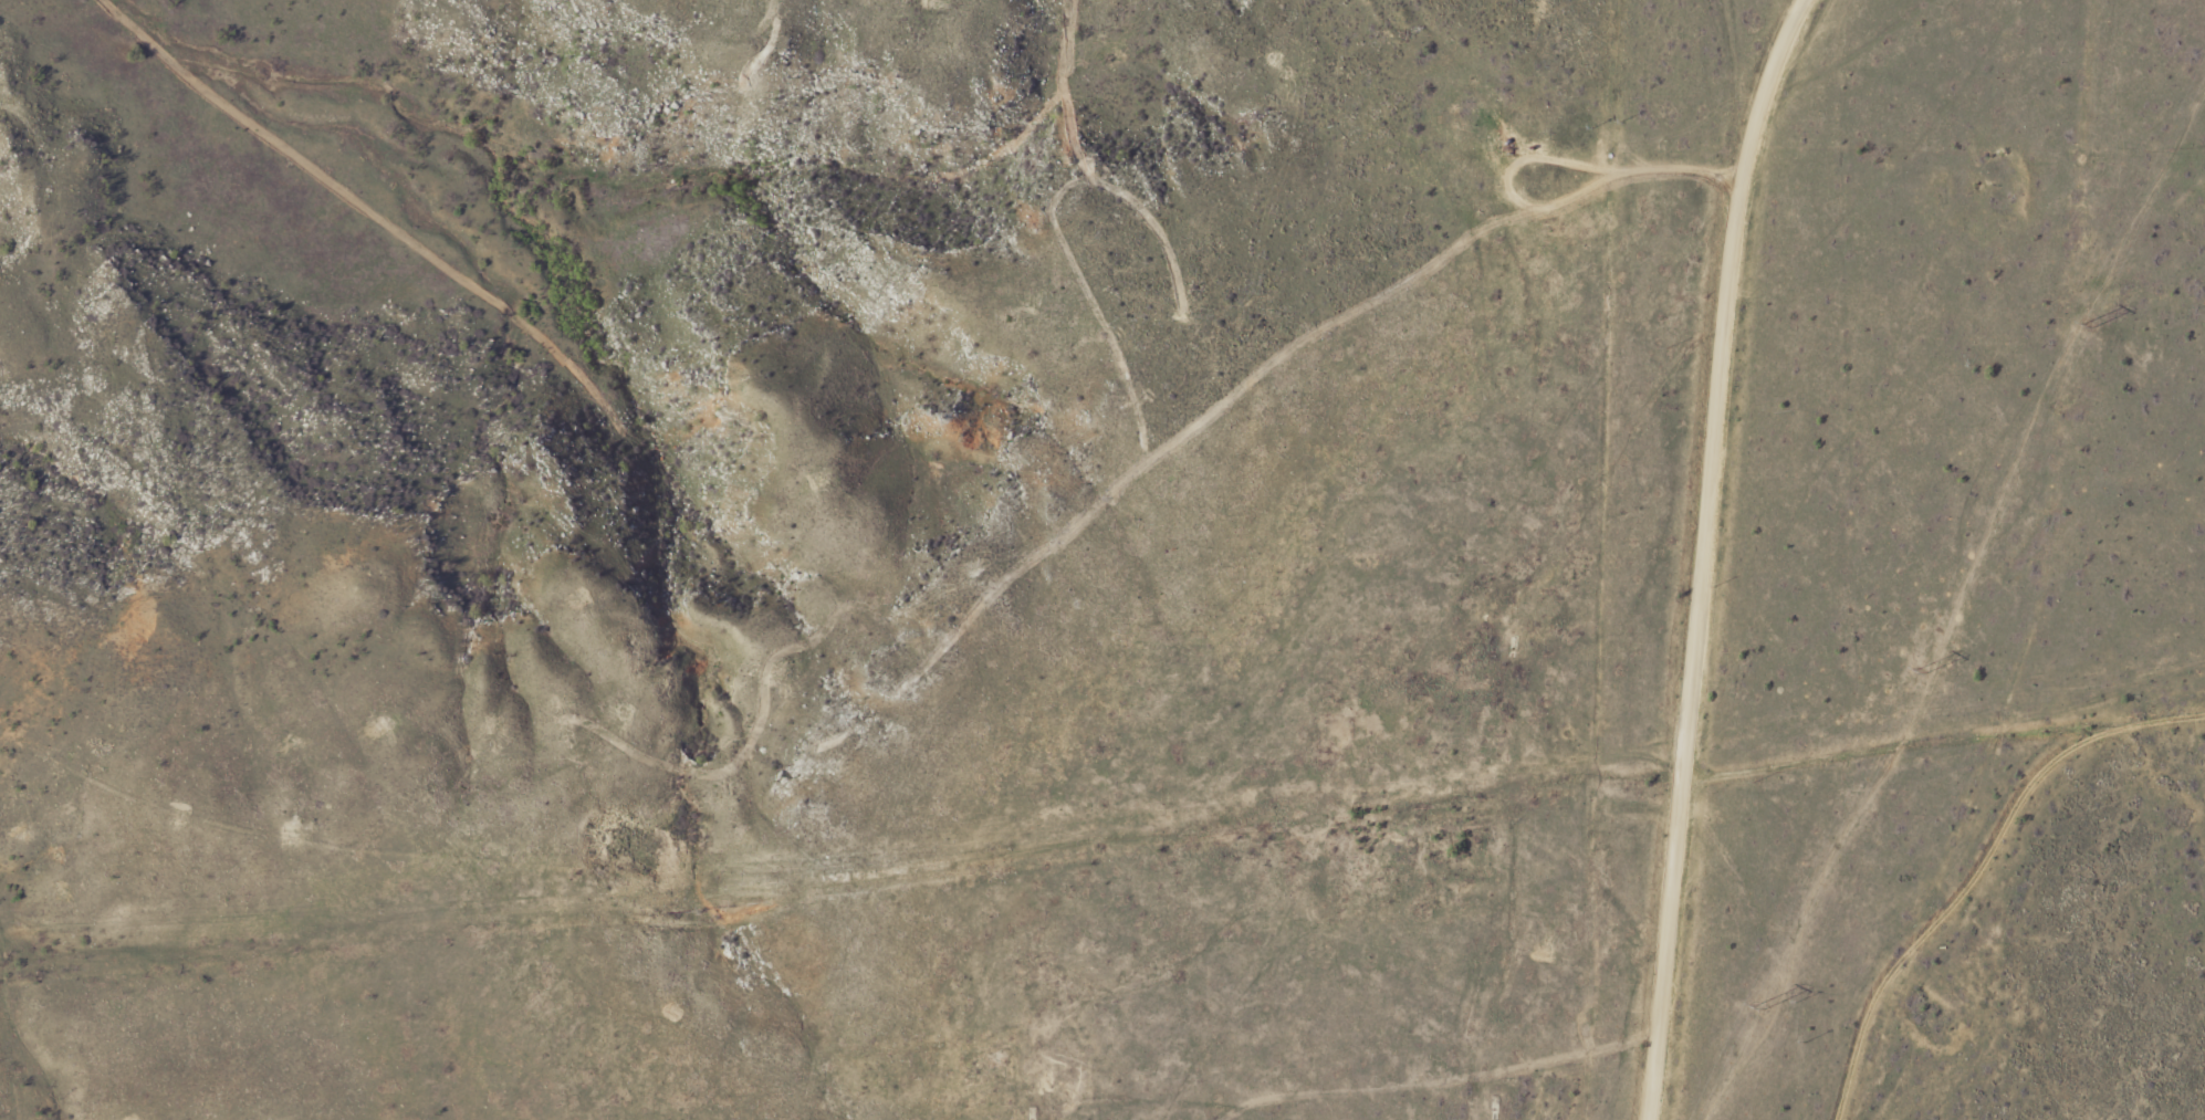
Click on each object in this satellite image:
power tower: (2089, 325)
power tower: (1920, 671)
power tower: (1758, 1008)

